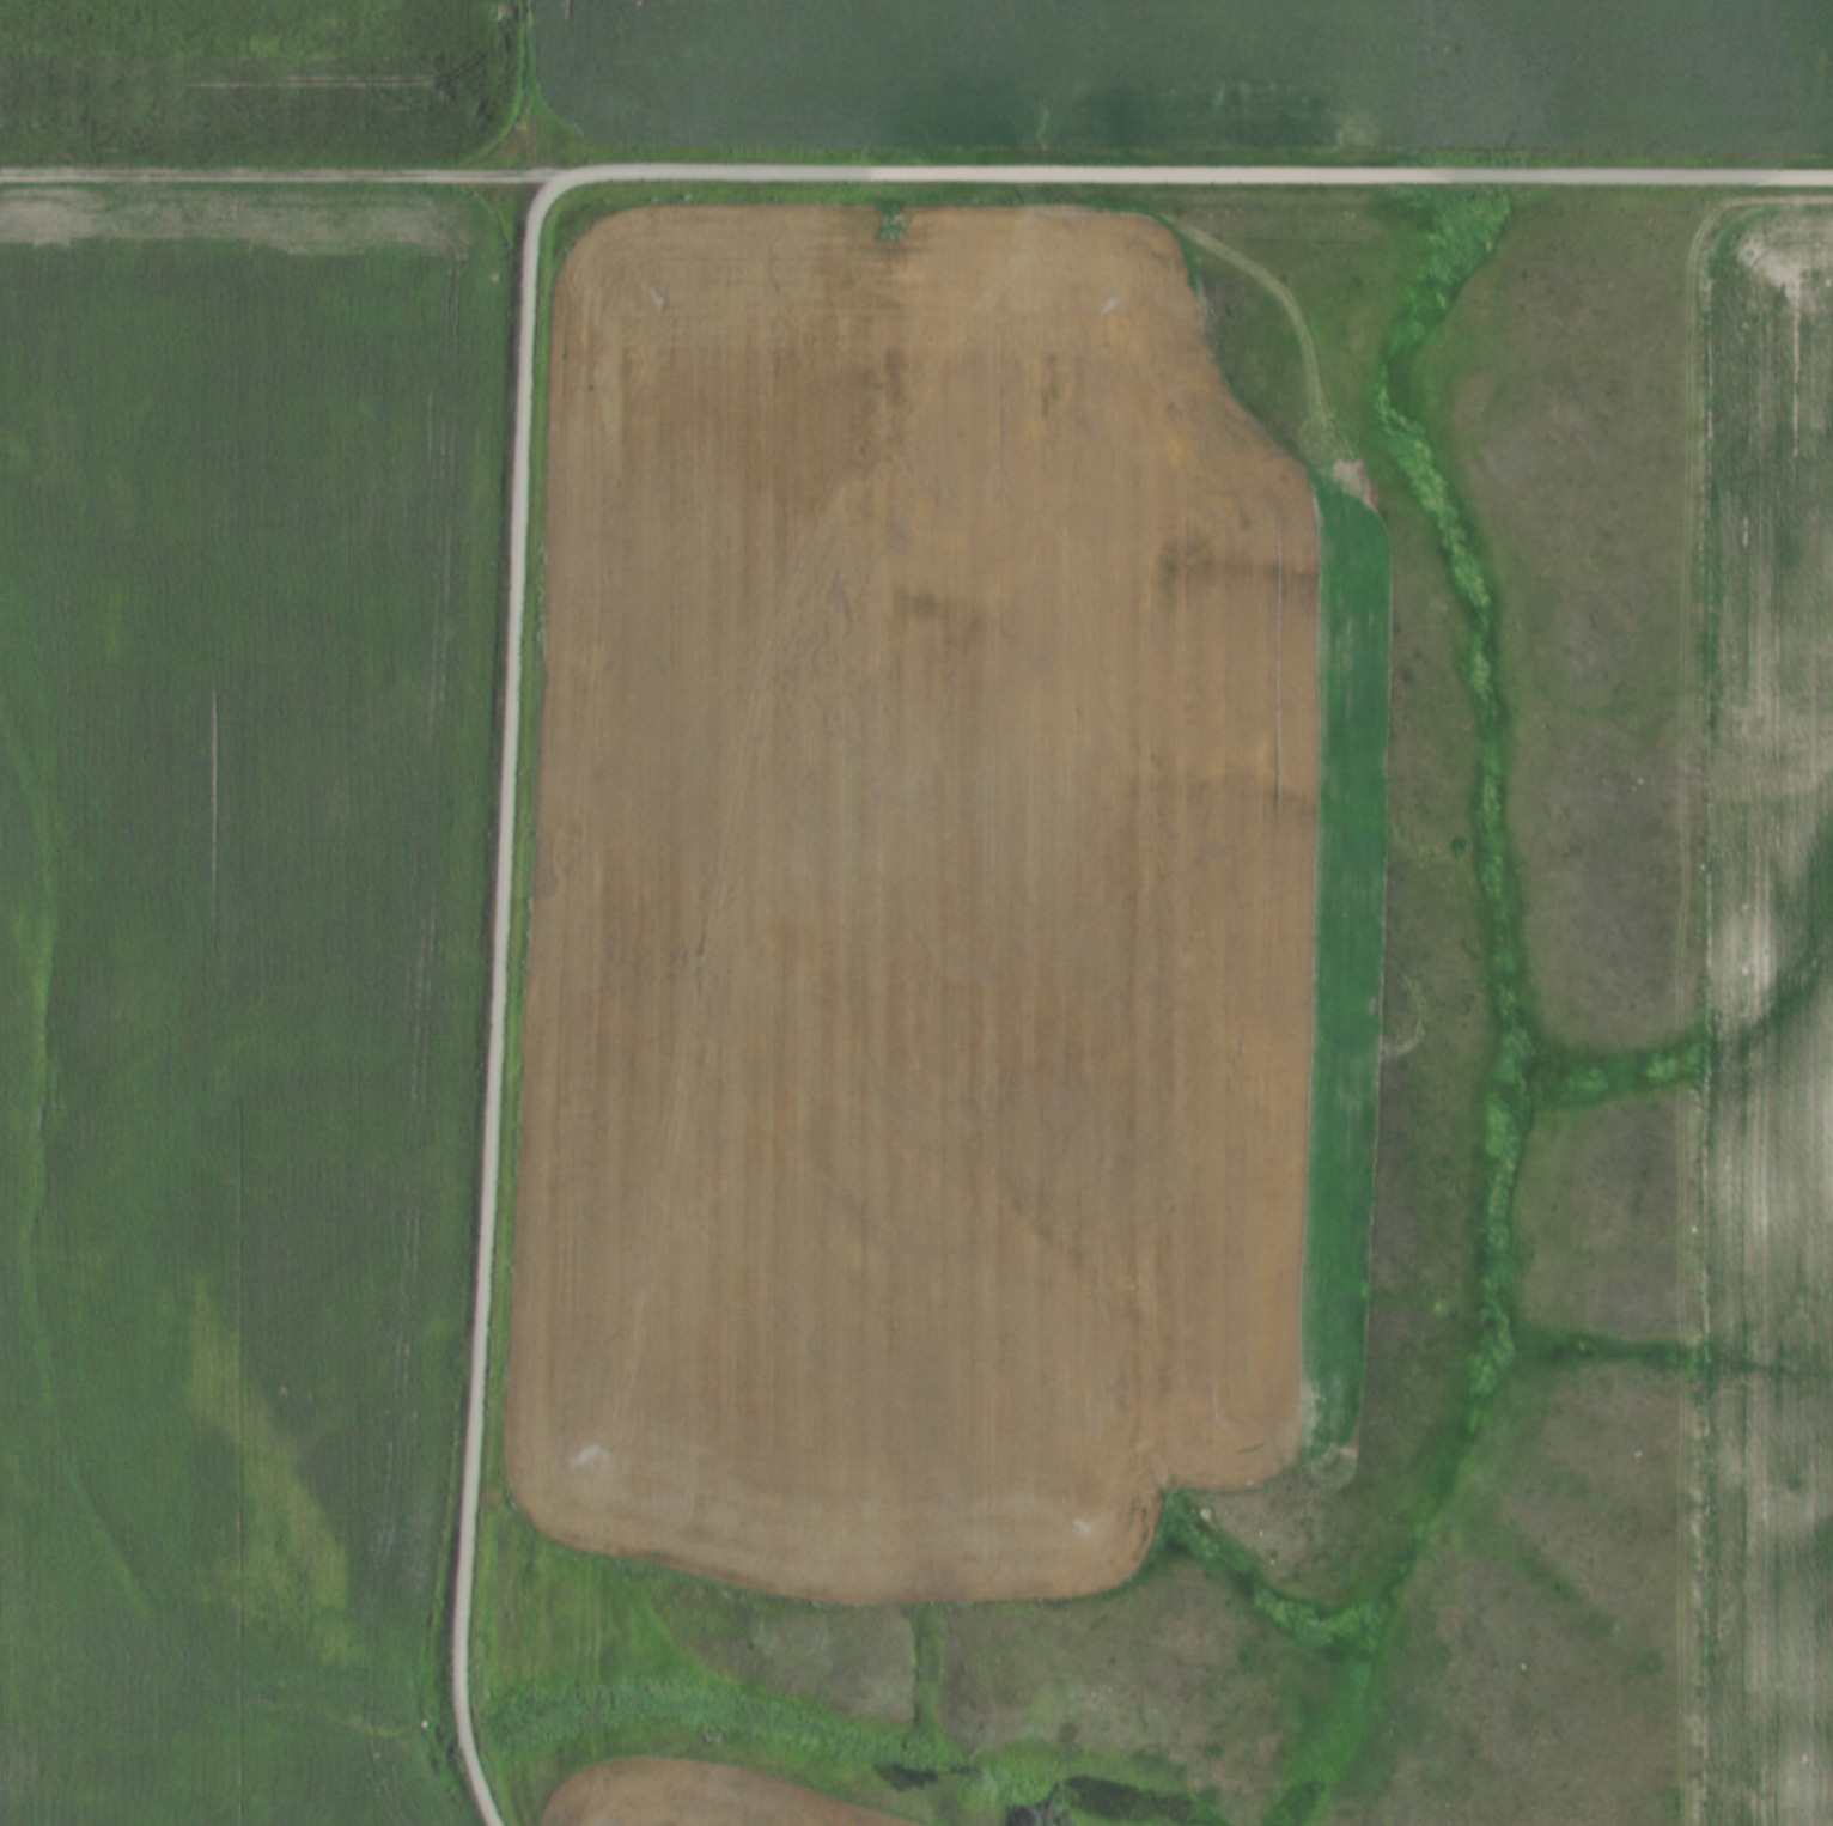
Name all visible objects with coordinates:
road: (287, 171)
road: (1204, 172)
road: (501, 991)

